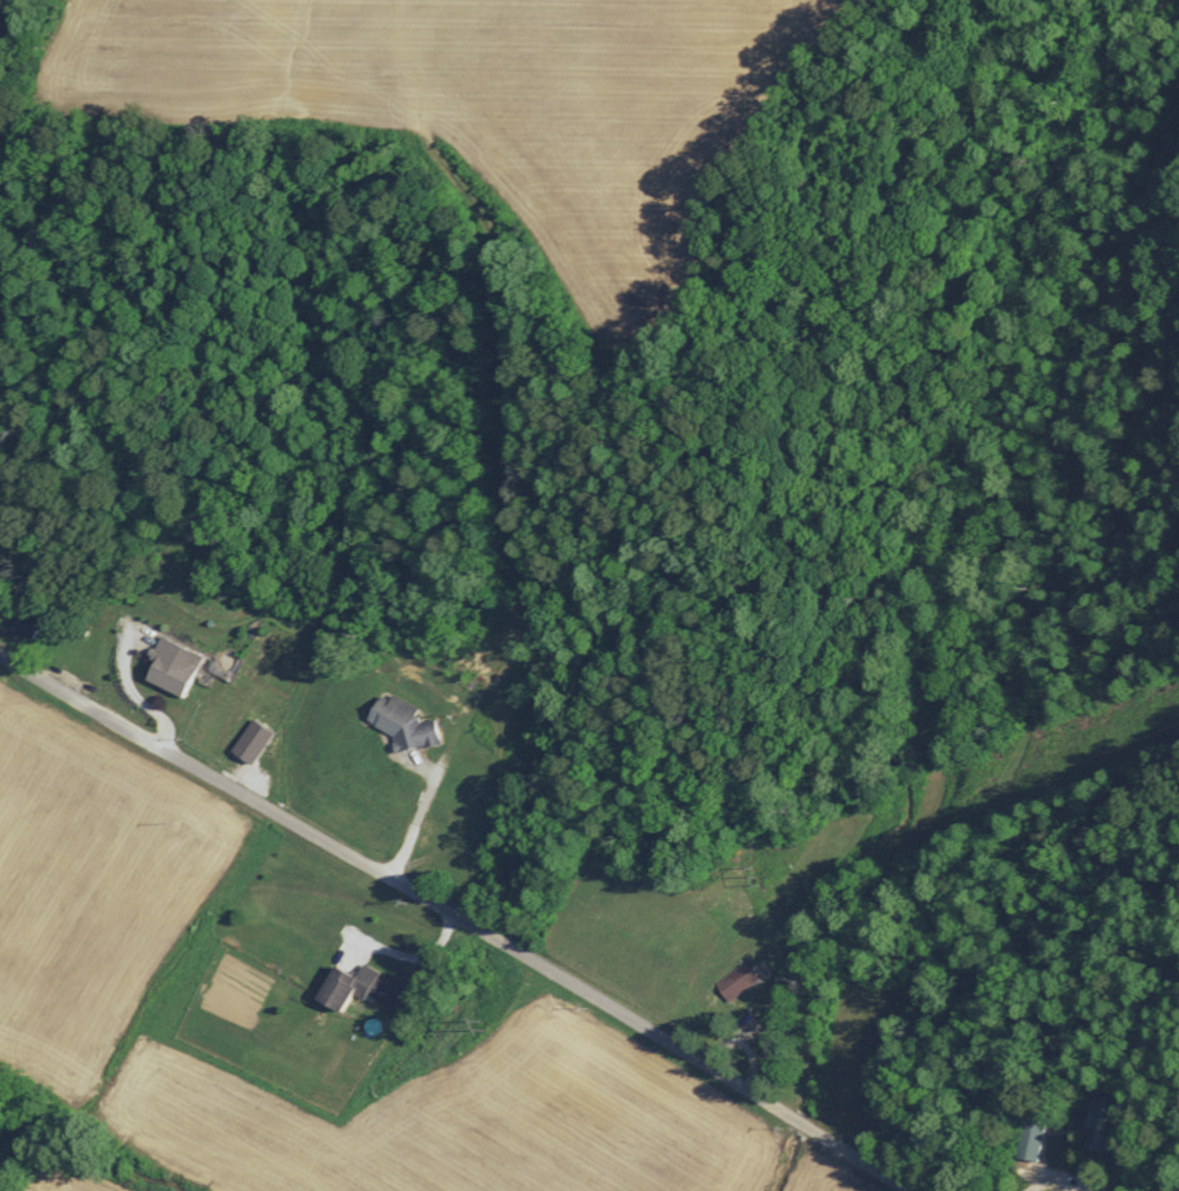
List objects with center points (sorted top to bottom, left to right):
building: (18, 622)
building: (168, 665)
building: (400, 722)
road: (418, 827)
building: (459, 853)
road: (458, 918)
building: (734, 979)
building: (356, 987)
building: (1101, 1123)
building: (1027, 1138)

